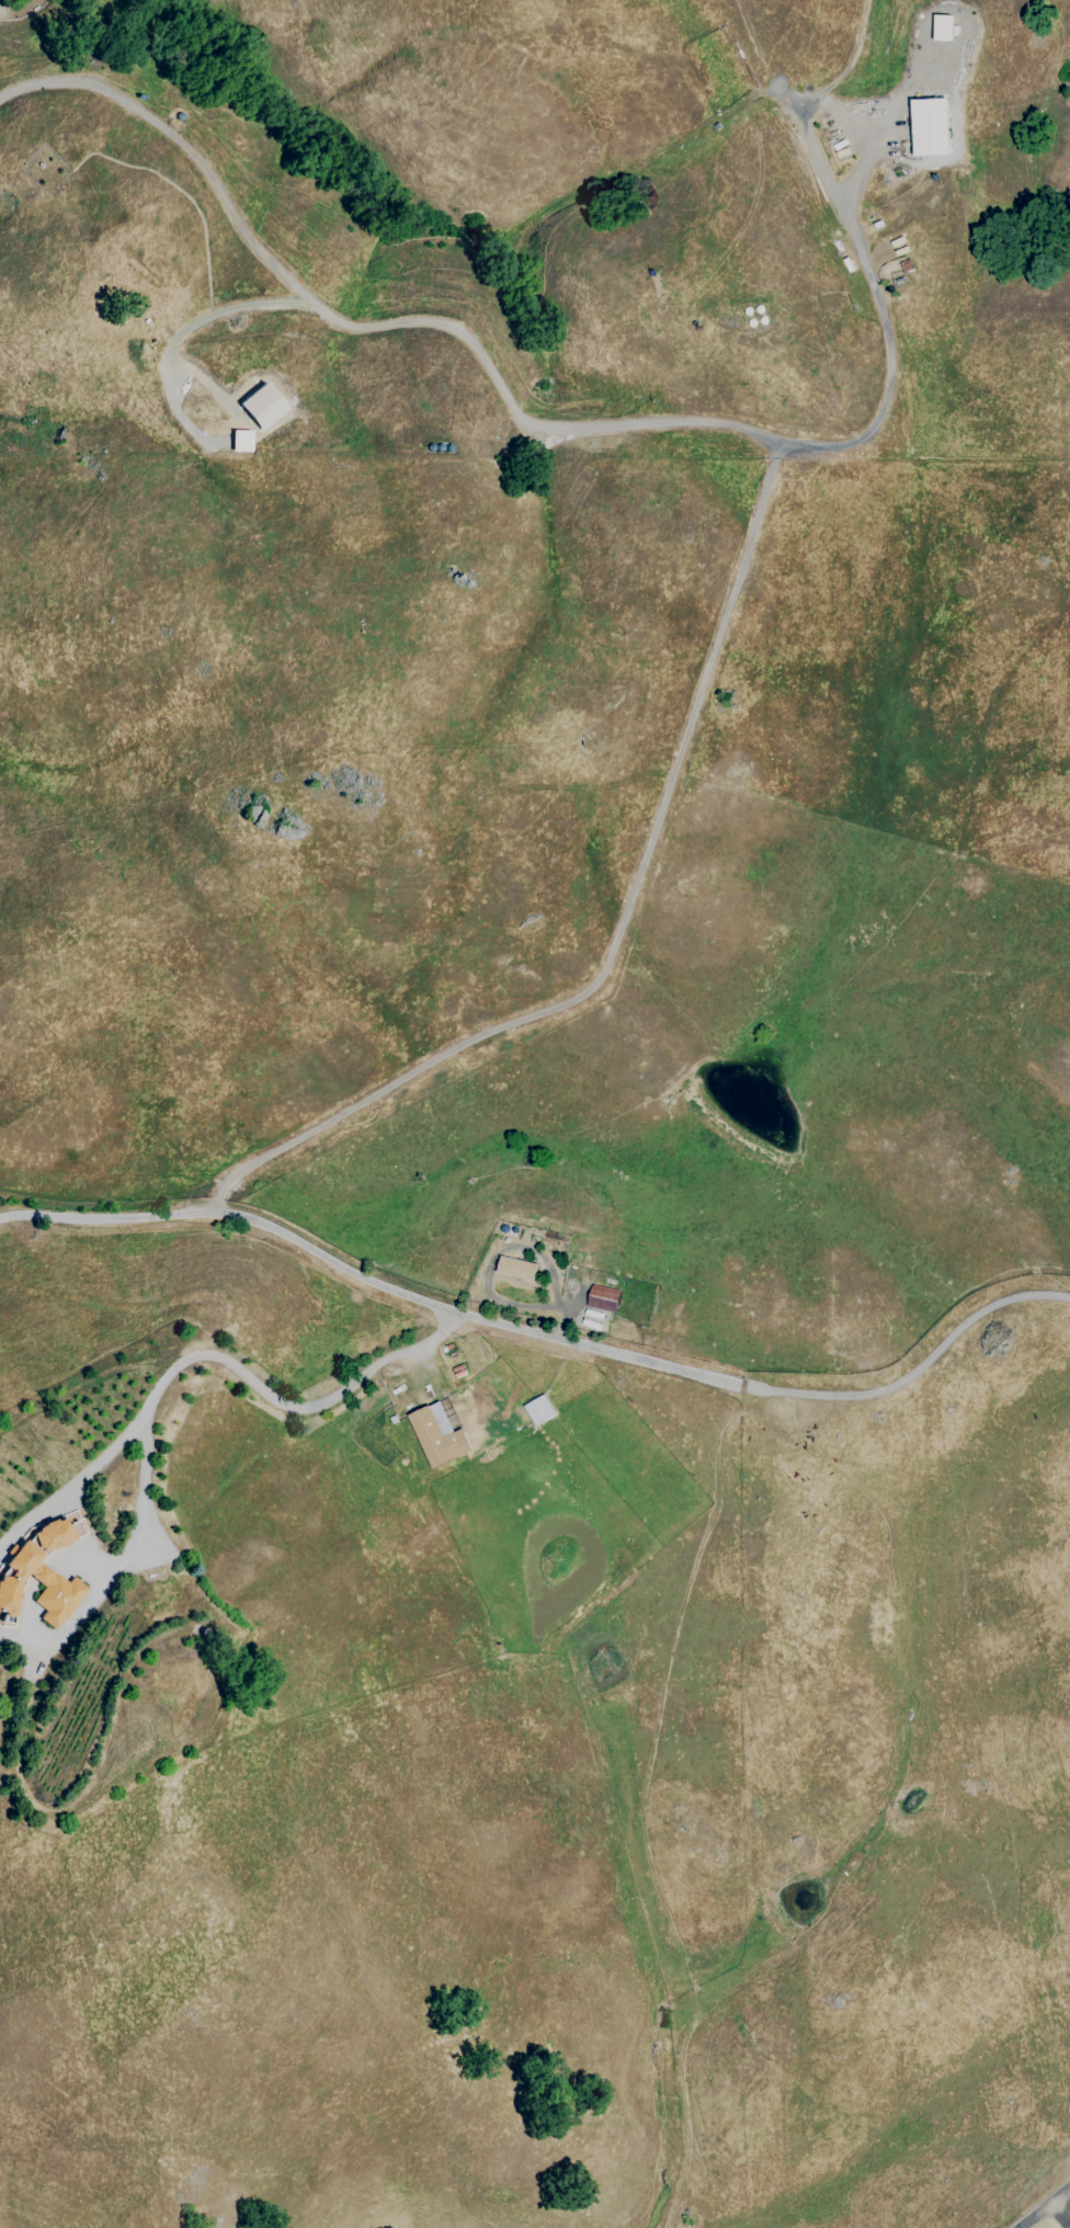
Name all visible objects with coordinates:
building: (943, 26)
building: (925, 132)
road: (195, 320)
road: (499, 394)
building: (263, 406)
building: (241, 441)
road: (617, 934)
building: (516, 1268)
building: (516, 1287)
building: (601, 1297)
road: (542, 1337)
road: (289, 1409)
building: (537, 1412)
building: (436, 1435)
road: (141, 1476)
building: (41, 1573)

